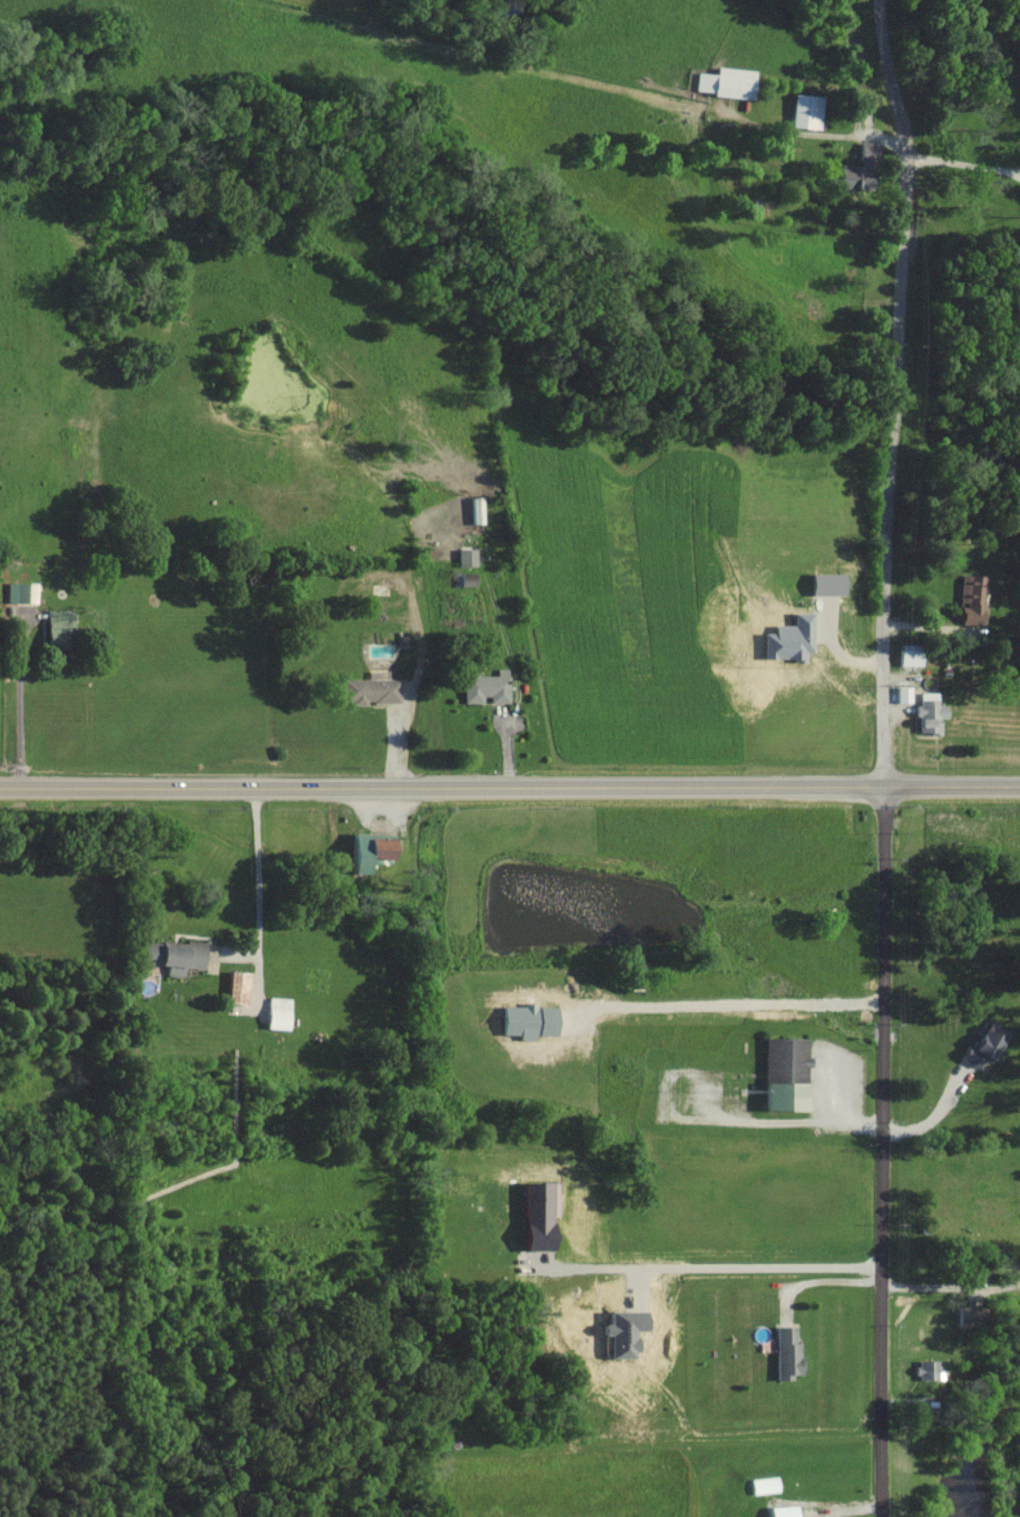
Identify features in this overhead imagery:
building: (724, 81)
building: (803, 110)
road: (815, 133)
building: (864, 150)
road: (961, 163)
building: (849, 175)
building: (474, 509)
building: (464, 556)
building: (19, 591)
building: (969, 599)
building: (54, 629)
building: (908, 654)
building: (483, 687)
building: (369, 690)
building: (901, 693)
road: (18, 703)
building: (926, 713)
road: (883, 756)
road: (509, 788)
building: (365, 851)
road: (259, 894)
building: (172, 955)
building: (234, 986)
building: (274, 1012)
building: (980, 1042)
building: (781, 1073)
building: (742, 1090)
building: (535, 1216)
road: (709, 1266)
road: (952, 1287)
building: (783, 1353)
building: (925, 1370)
building: (762, 1484)
building: (779, 1511)

